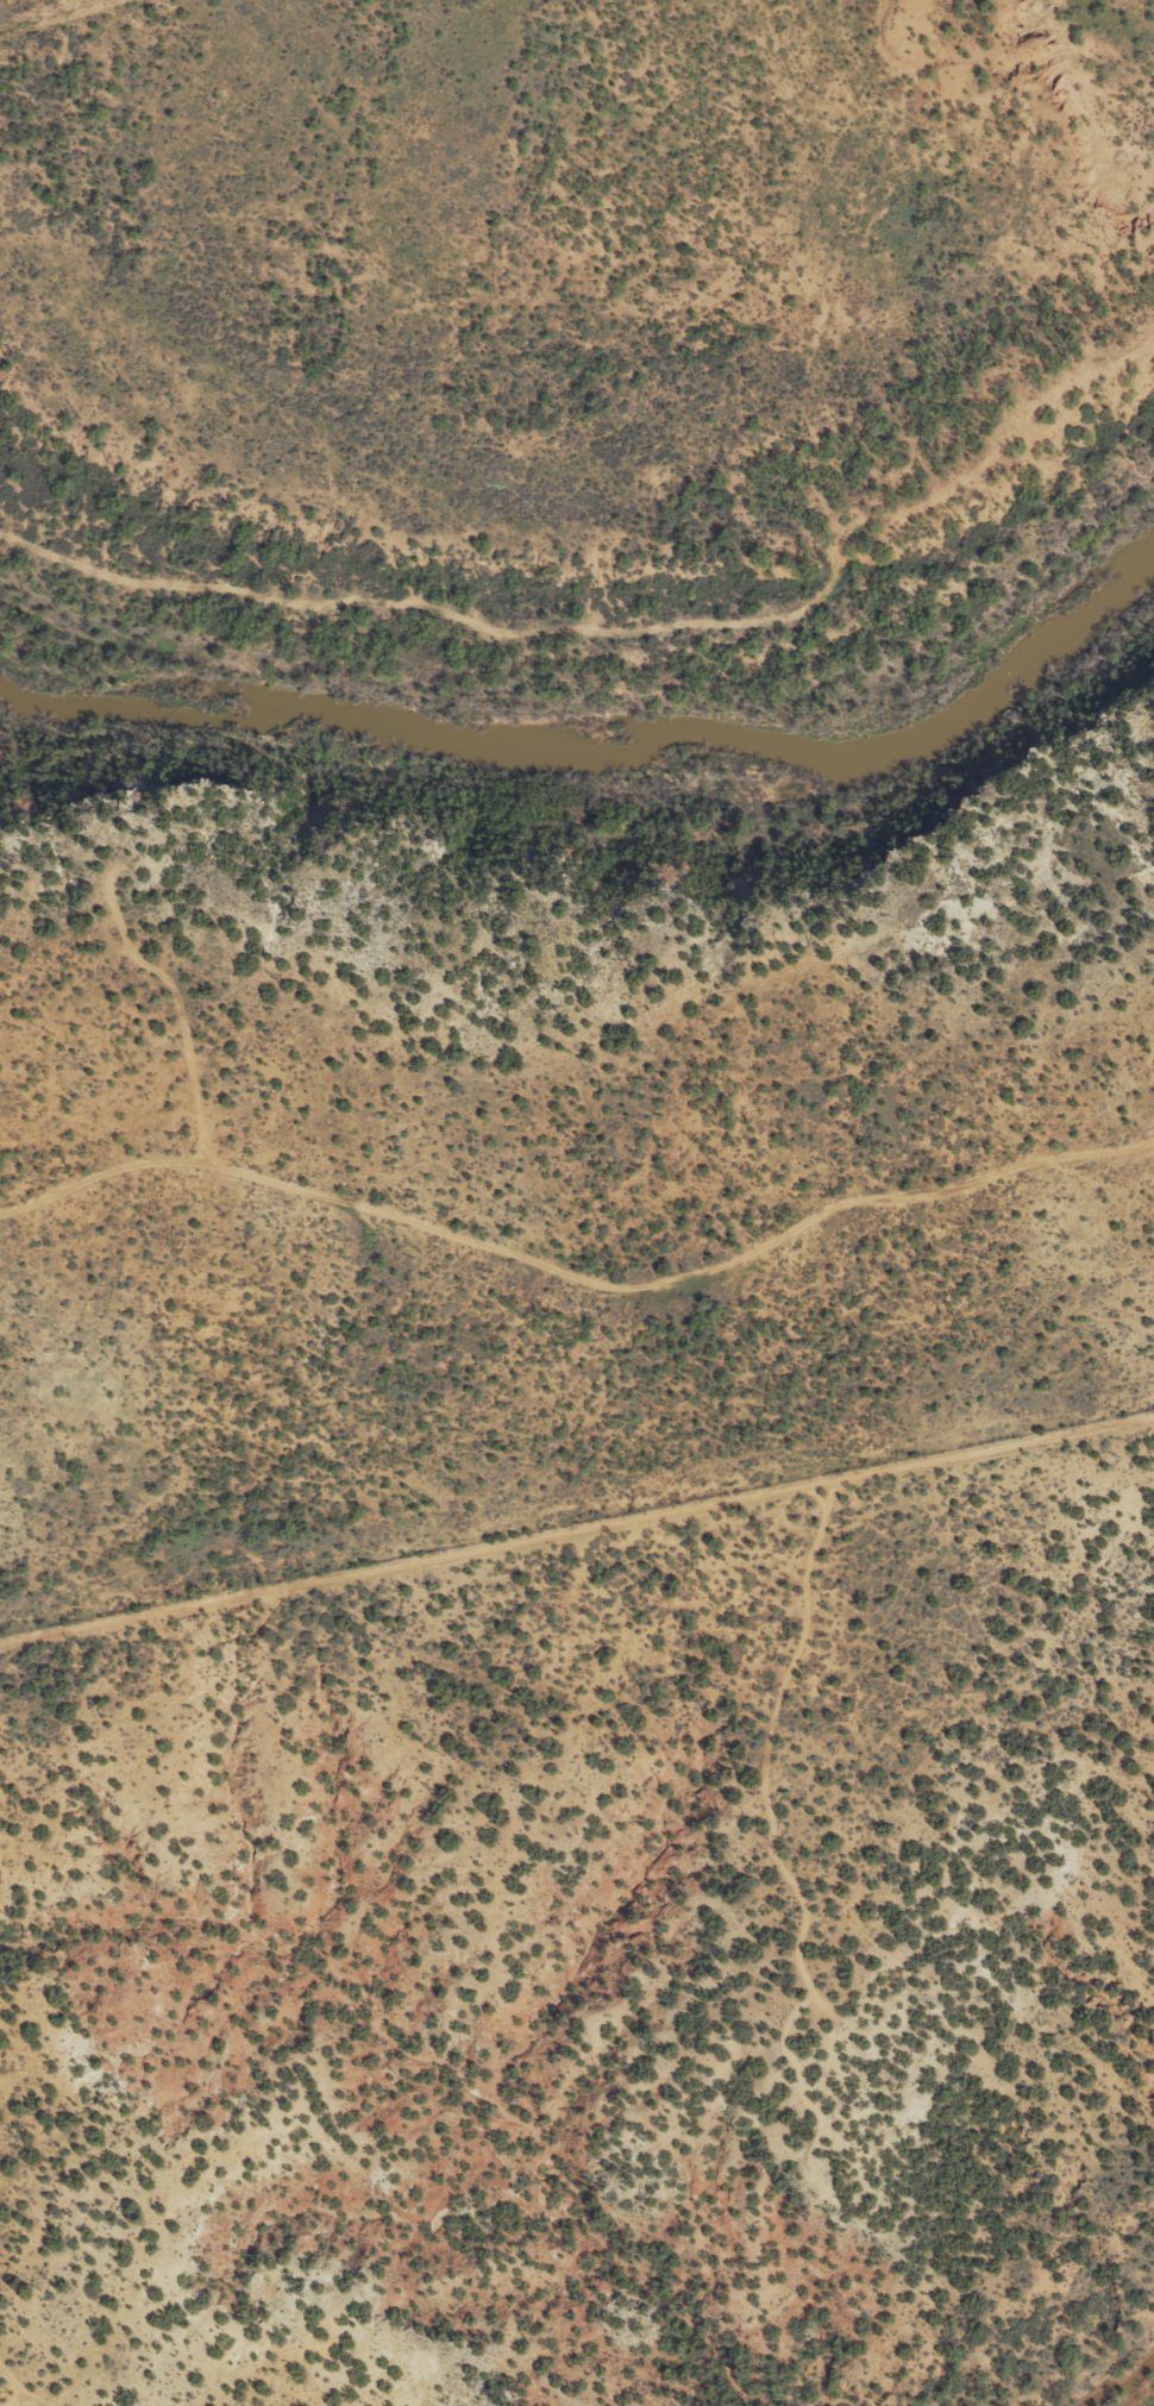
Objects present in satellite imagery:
river: (613, 759)
river: (1121, 2380)

